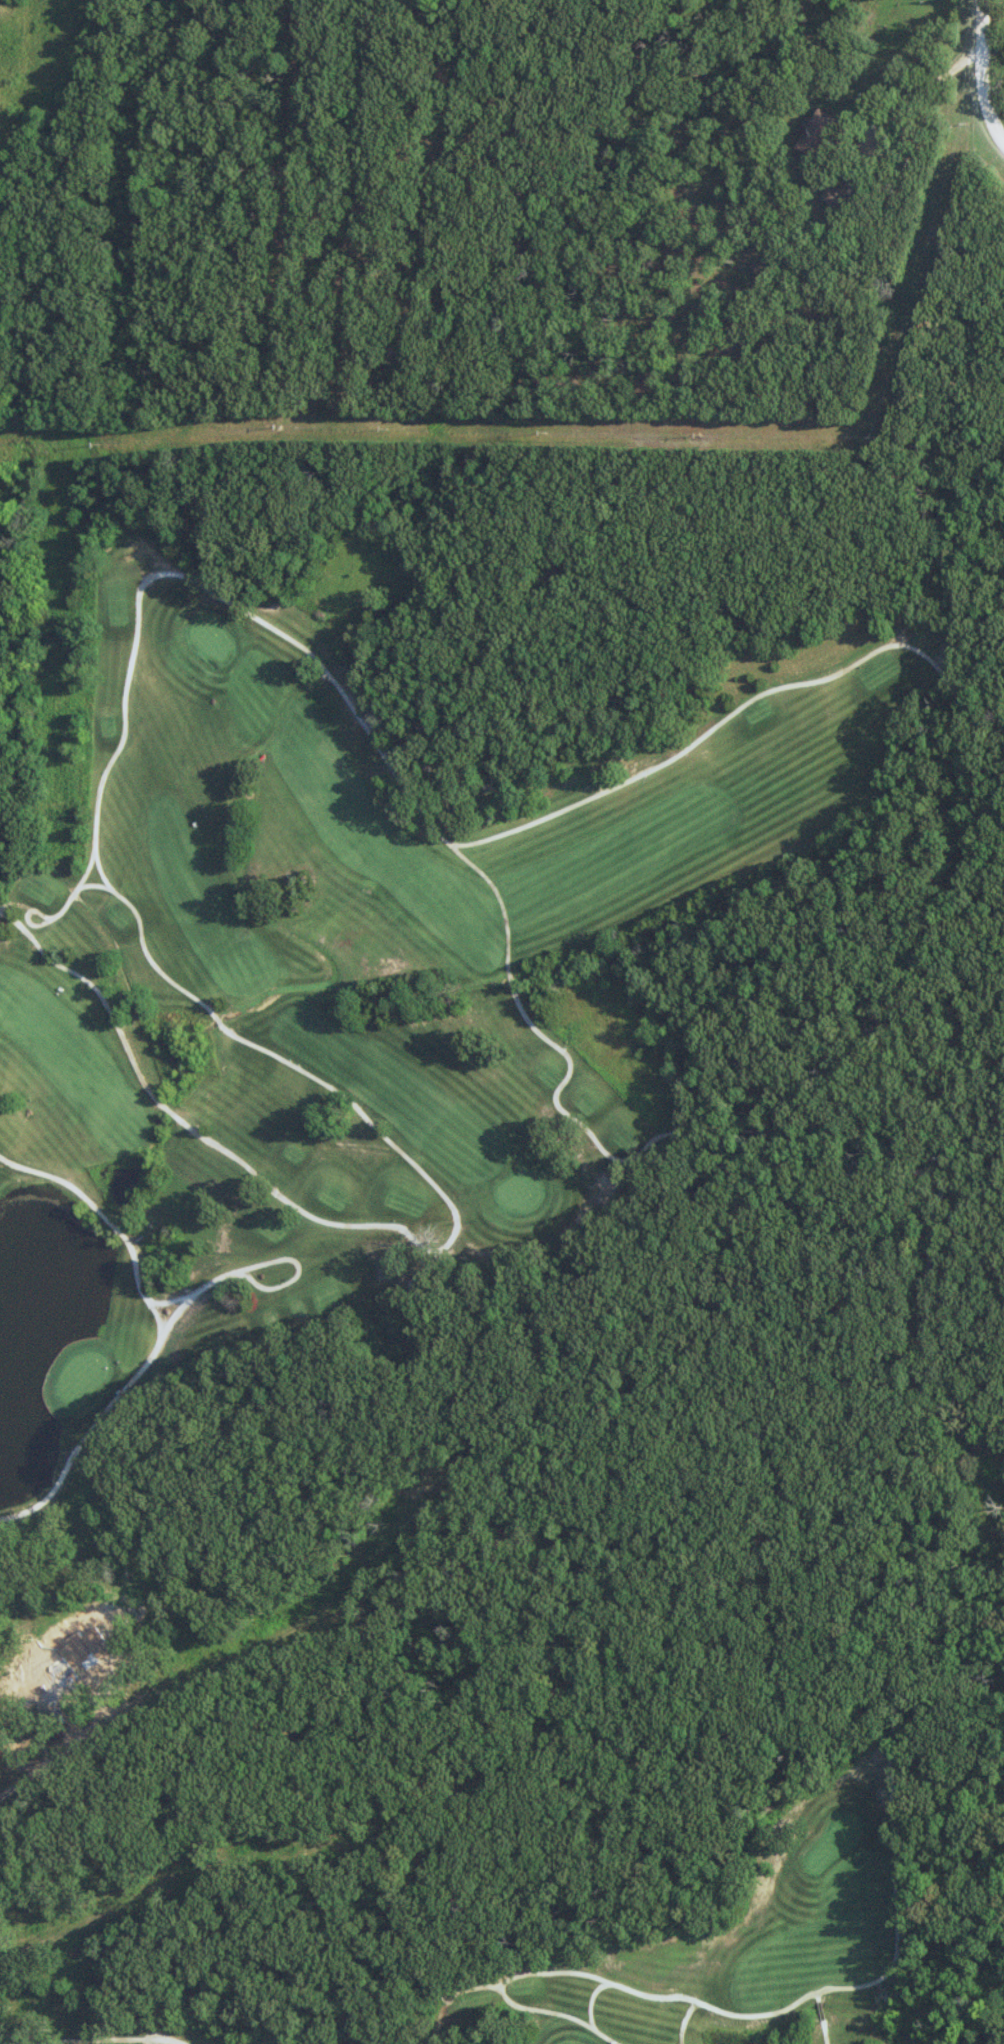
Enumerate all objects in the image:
road: (984, 72)
road: (919, 449)
park: (366, 979)
park: (668, 1950)

